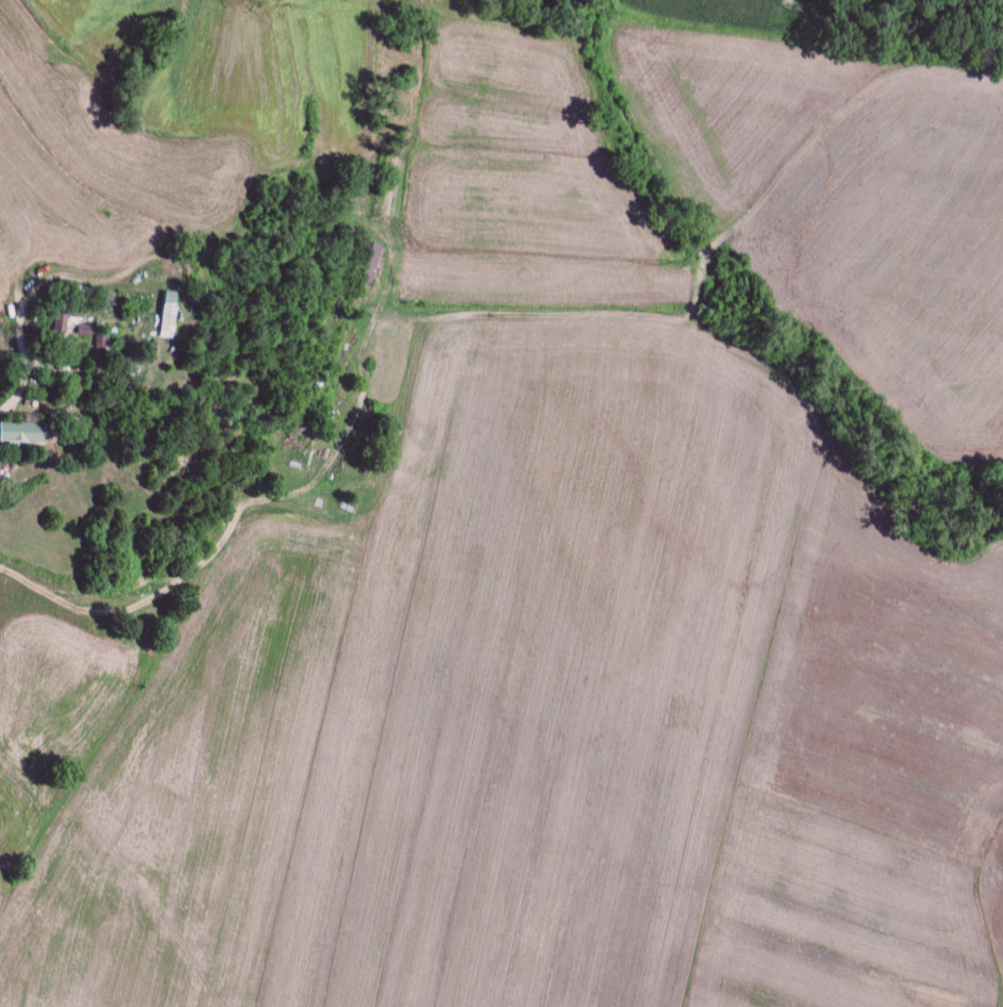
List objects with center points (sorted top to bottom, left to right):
building: (371, 264)
building: (65, 320)
building: (168, 321)
building: (107, 344)
road: (18, 396)
building: (22, 433)

